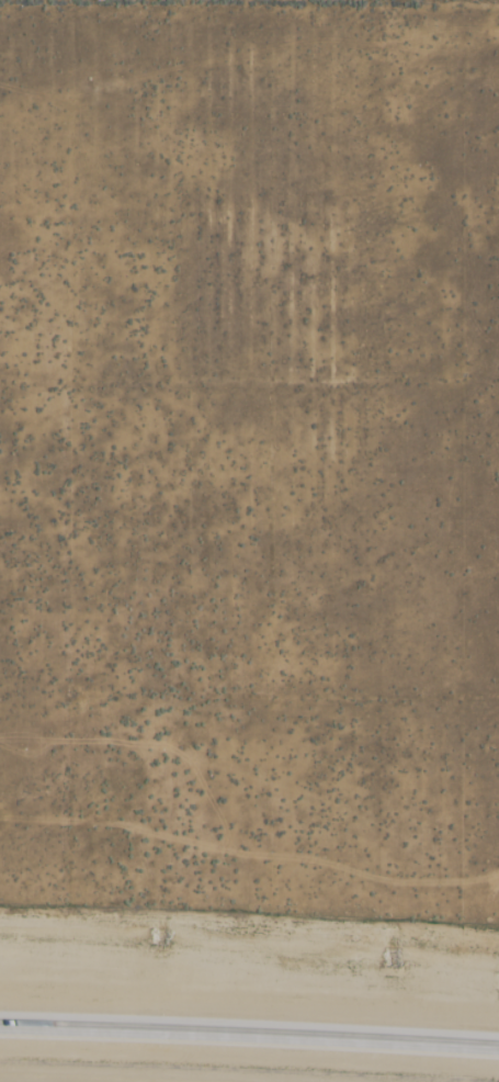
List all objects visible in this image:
road: (249, 1032)

